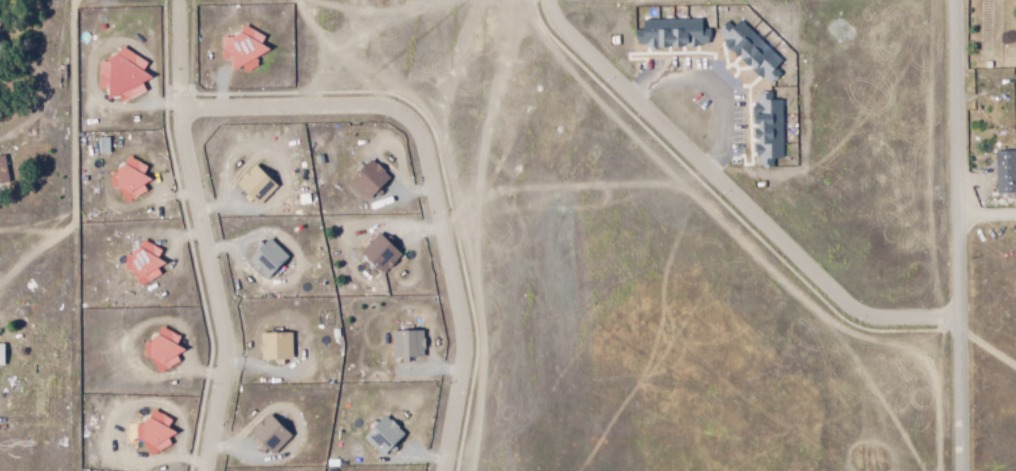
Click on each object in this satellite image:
building: (665, 33)
building: (246, 48)
building: (746, 48)
building: (123, 75)
road: (708, 89)
building: (1015, 99)
building: (763, 129)
building: (104, 144)
building: (3, 171)
building: (1002, 172)
road: (427, 177)
building: (130, 178)
building: (372, 179)
building: (259, 184)
road: (738, 197)
road: (965, 235)
road: (201, 237)
building: (383, 251)
building: (270, 257)
building: (145, 261)
building: (278, 345)
building: (410, 345)
building: (165, 348)
building: (1, 353)
building: (156, 430)
building: (270, 434)
building: (384, 436)

